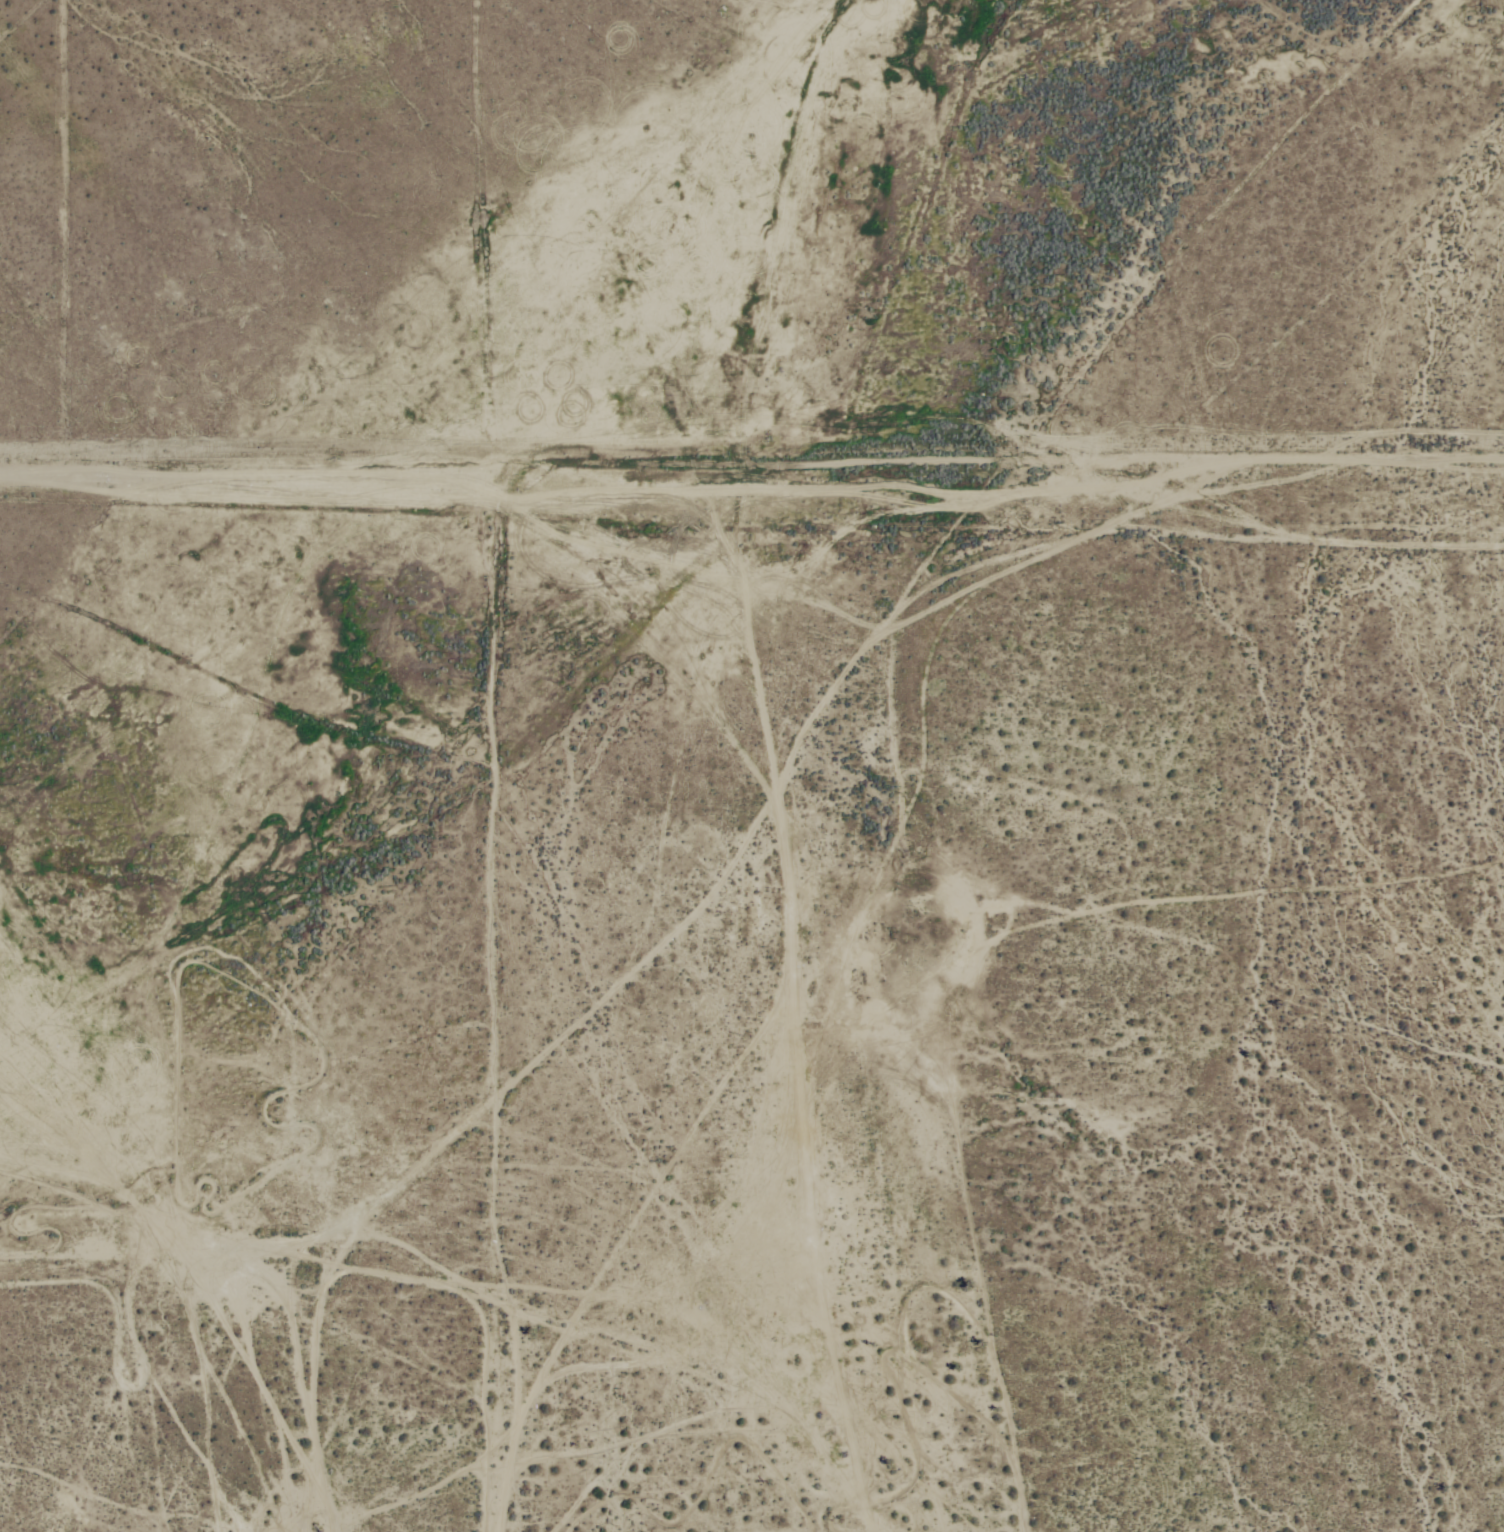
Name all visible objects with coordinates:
road: (508, 243)
road: (749, 529)

